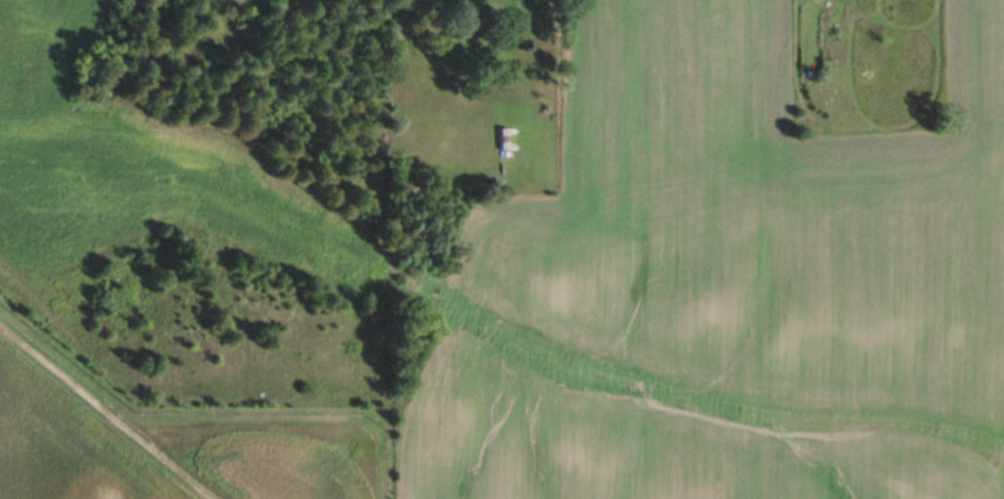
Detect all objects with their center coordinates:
crop: (596, 241)
airport: (162, 442)

